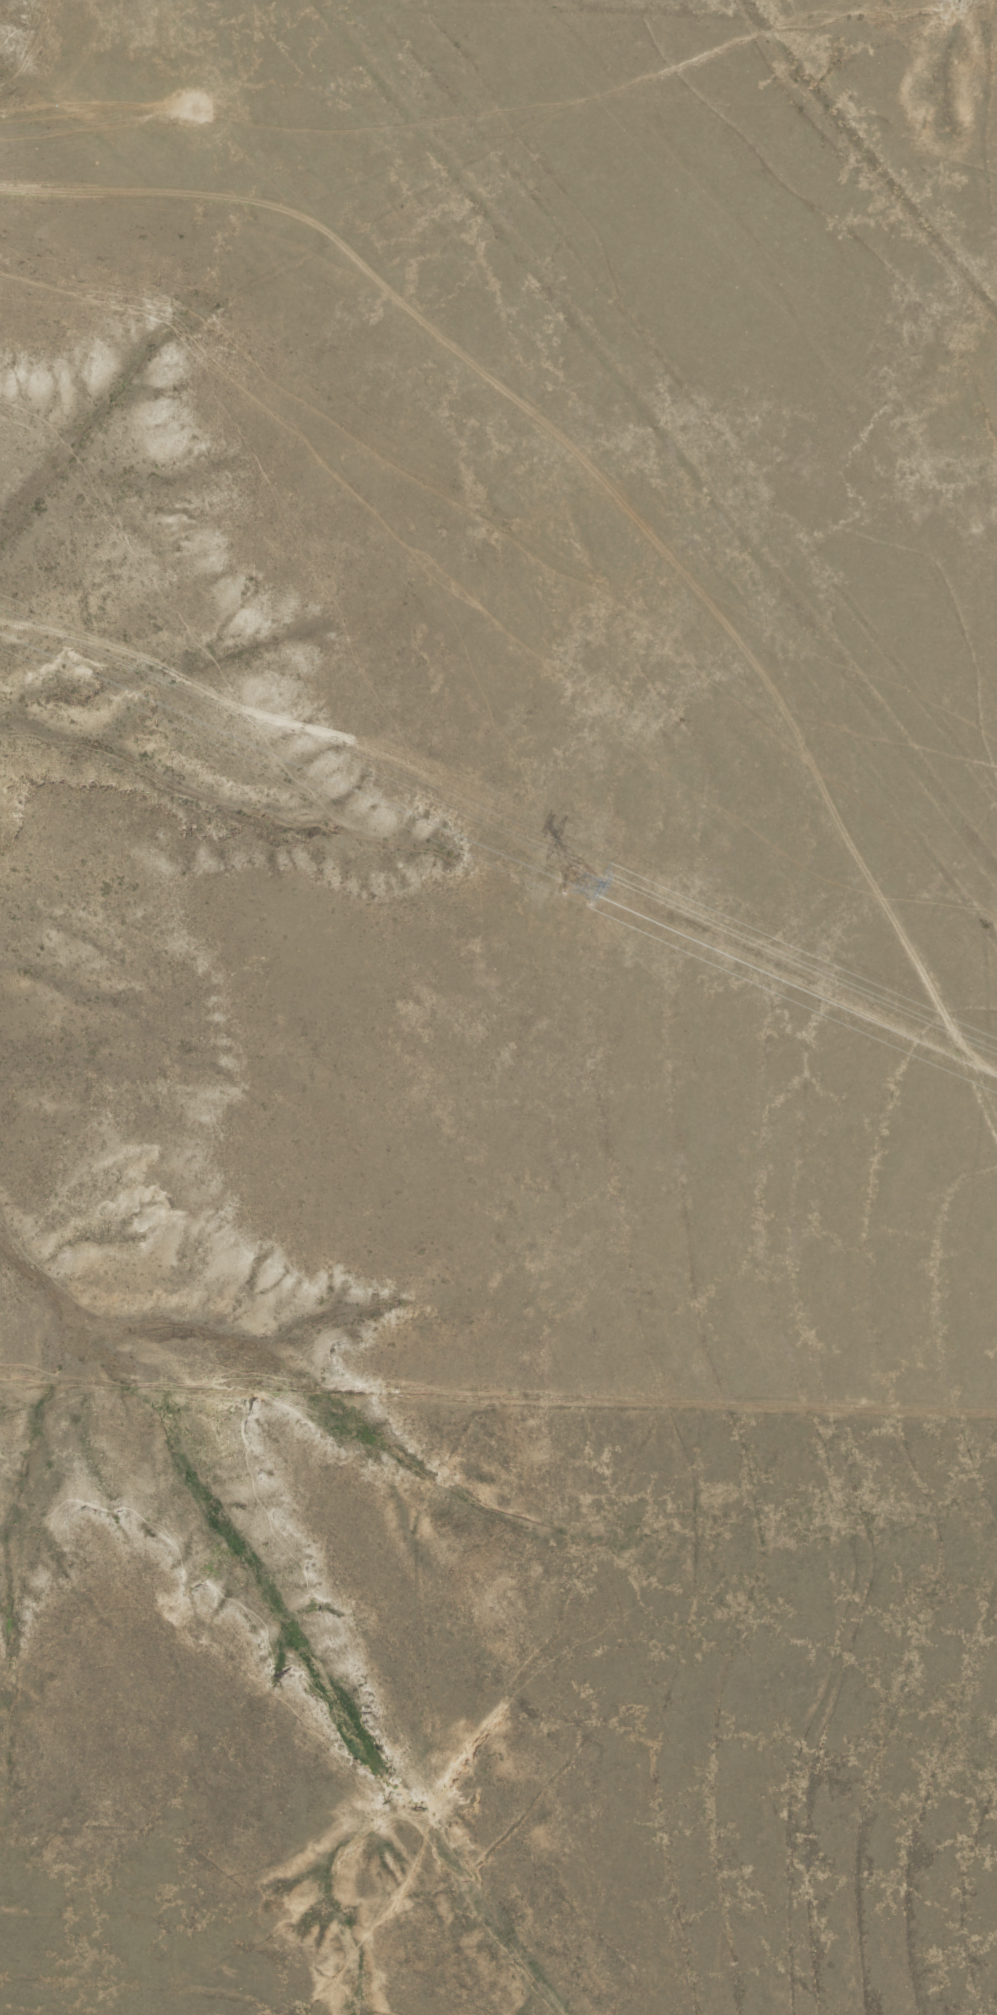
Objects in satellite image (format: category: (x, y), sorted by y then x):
road: (822, 213)
road: (625, 589)
power tower: (583, 887)

